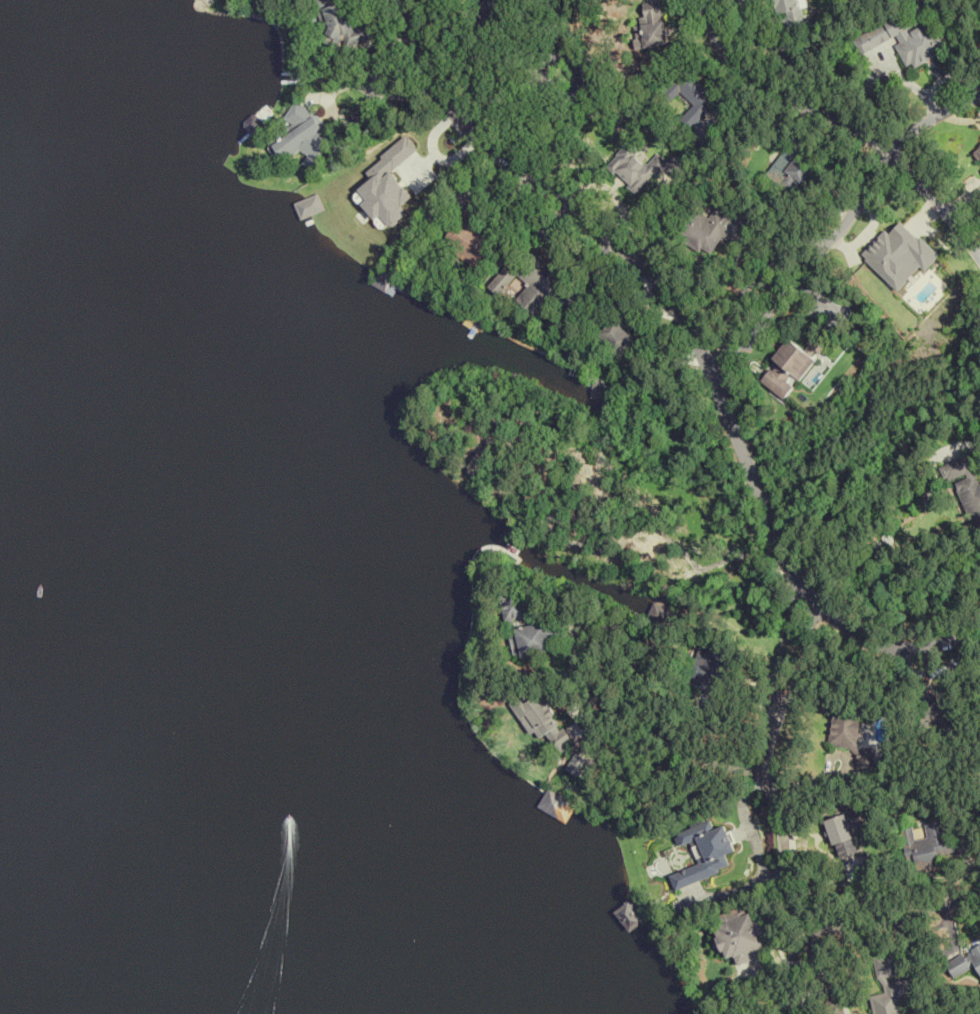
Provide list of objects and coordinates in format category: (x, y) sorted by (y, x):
building: (489, 8)
building: (792, 16)
building: (340, 24)
building: (649, 27)
building: (902, 40)
building: (577, 69)
building: (544, 71)
road: (775, 95)
building: (688, 97)
road: (930, 117)
building: (302, 135)
building: (976, 154)
building: (638, 167)
building: (798, 171)
road: (858, 200)
road: (937, 204)
building: (711, 228)
building: (470, 236)
road: (752, 270)
building: (529, 281)
building: (383, 283)
road: (775, 292)
building: (616, 336)
road: (700, 343)
road: (717, 350)
building: (790, 366)
building: (598, 393)
building: (964, 487)
building: (515, 606)
building: (659, 615)
building: (538, 639)
building: (707, 667)
building: (935, 708)
building: (546, 723)
building: (843, 730)
road: (679, 746)
road: (771, 811)
building: (842, 833)
building: (928, 846)
building: (703, 853)
road: (889, 912)
building: (740, 936)
building: (965, 963)
building: (890, 989)

